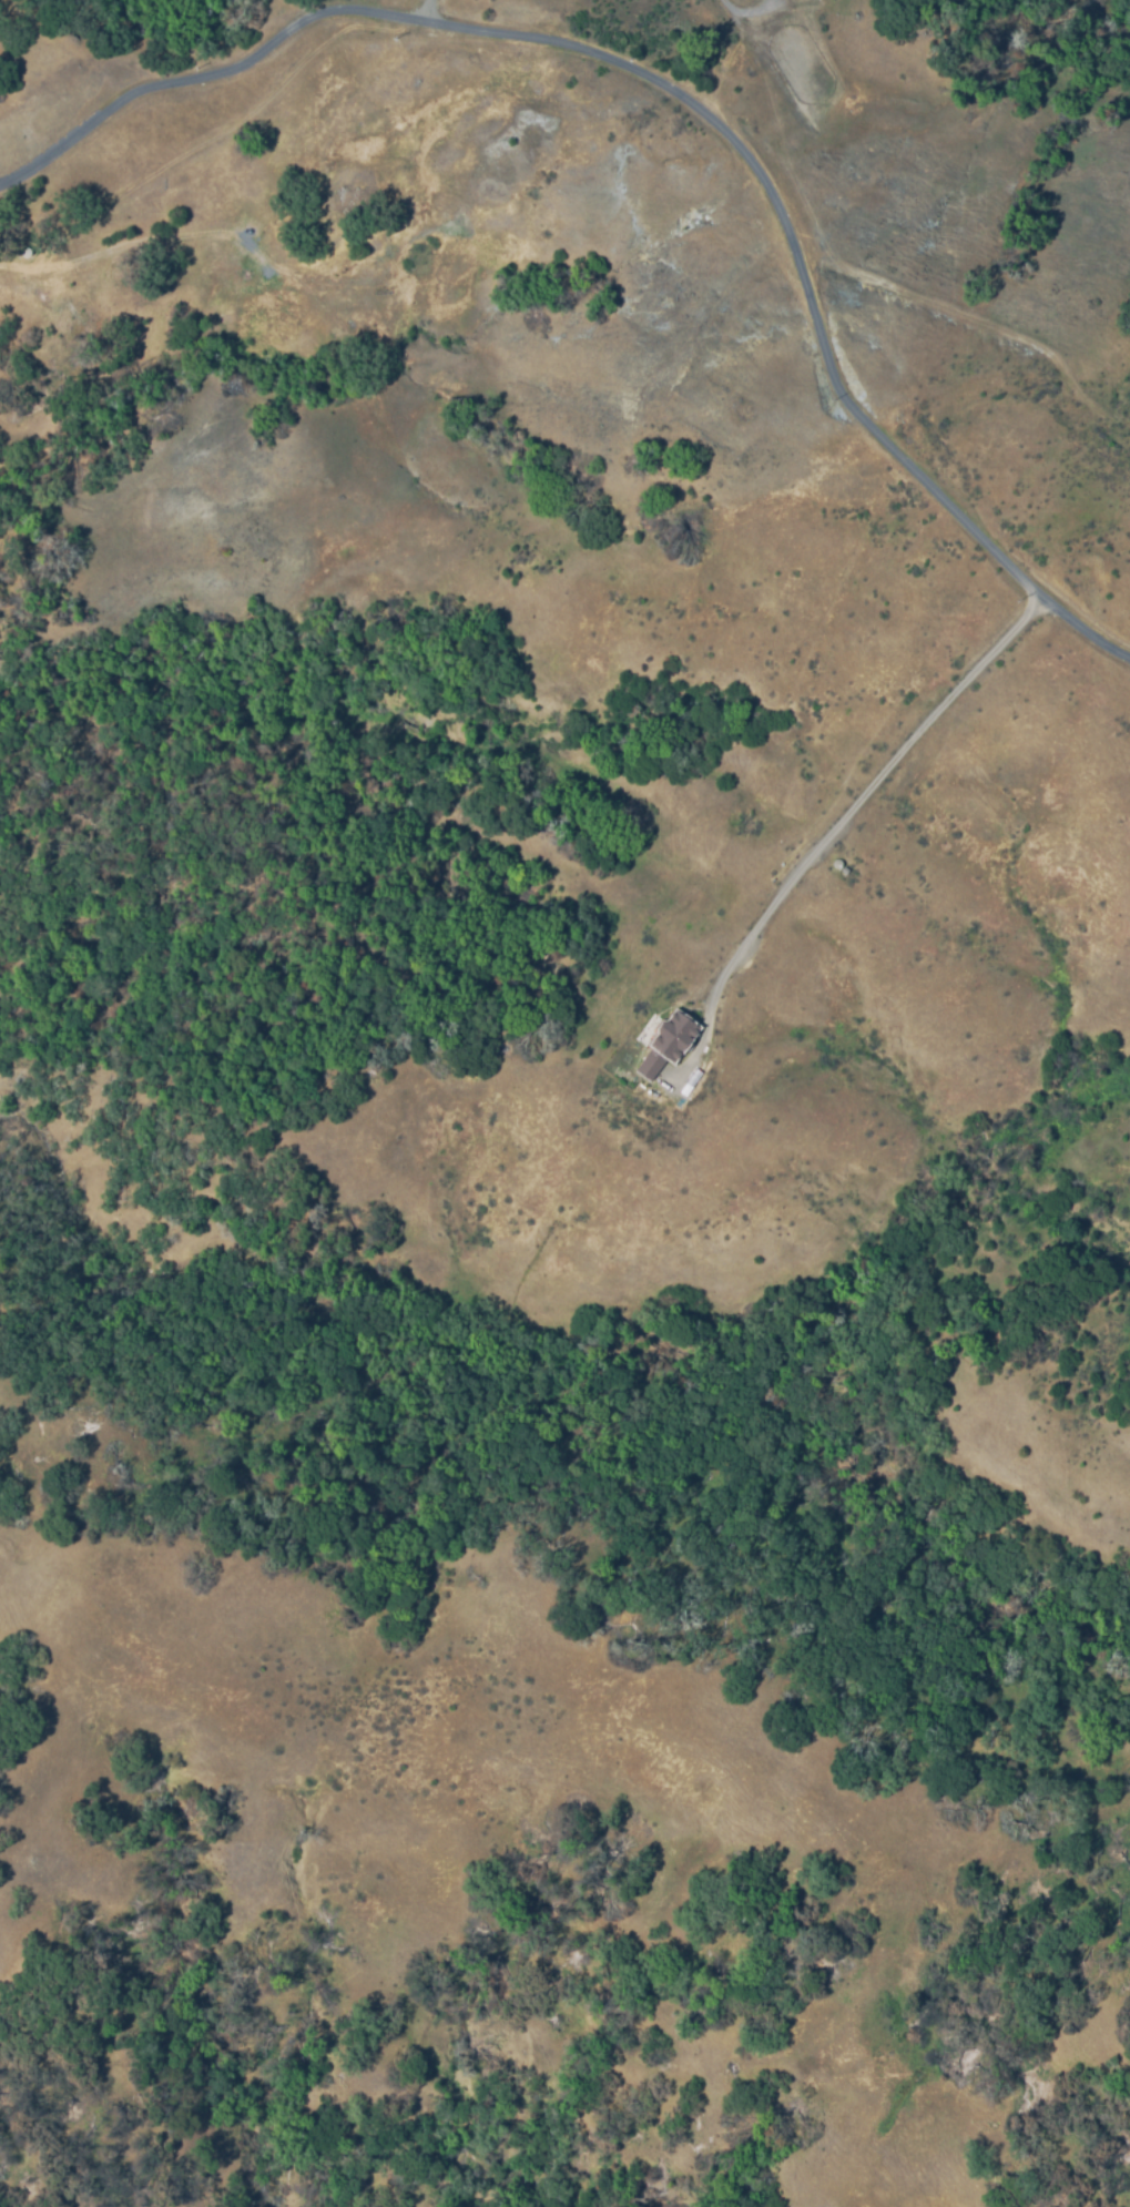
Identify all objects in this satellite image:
road: (423, 10)
road: (685, 87)
building: (26, 251)
road: (849, 820)
building: (836, 863)
building: (844, 869)
building: (666, 1045)

